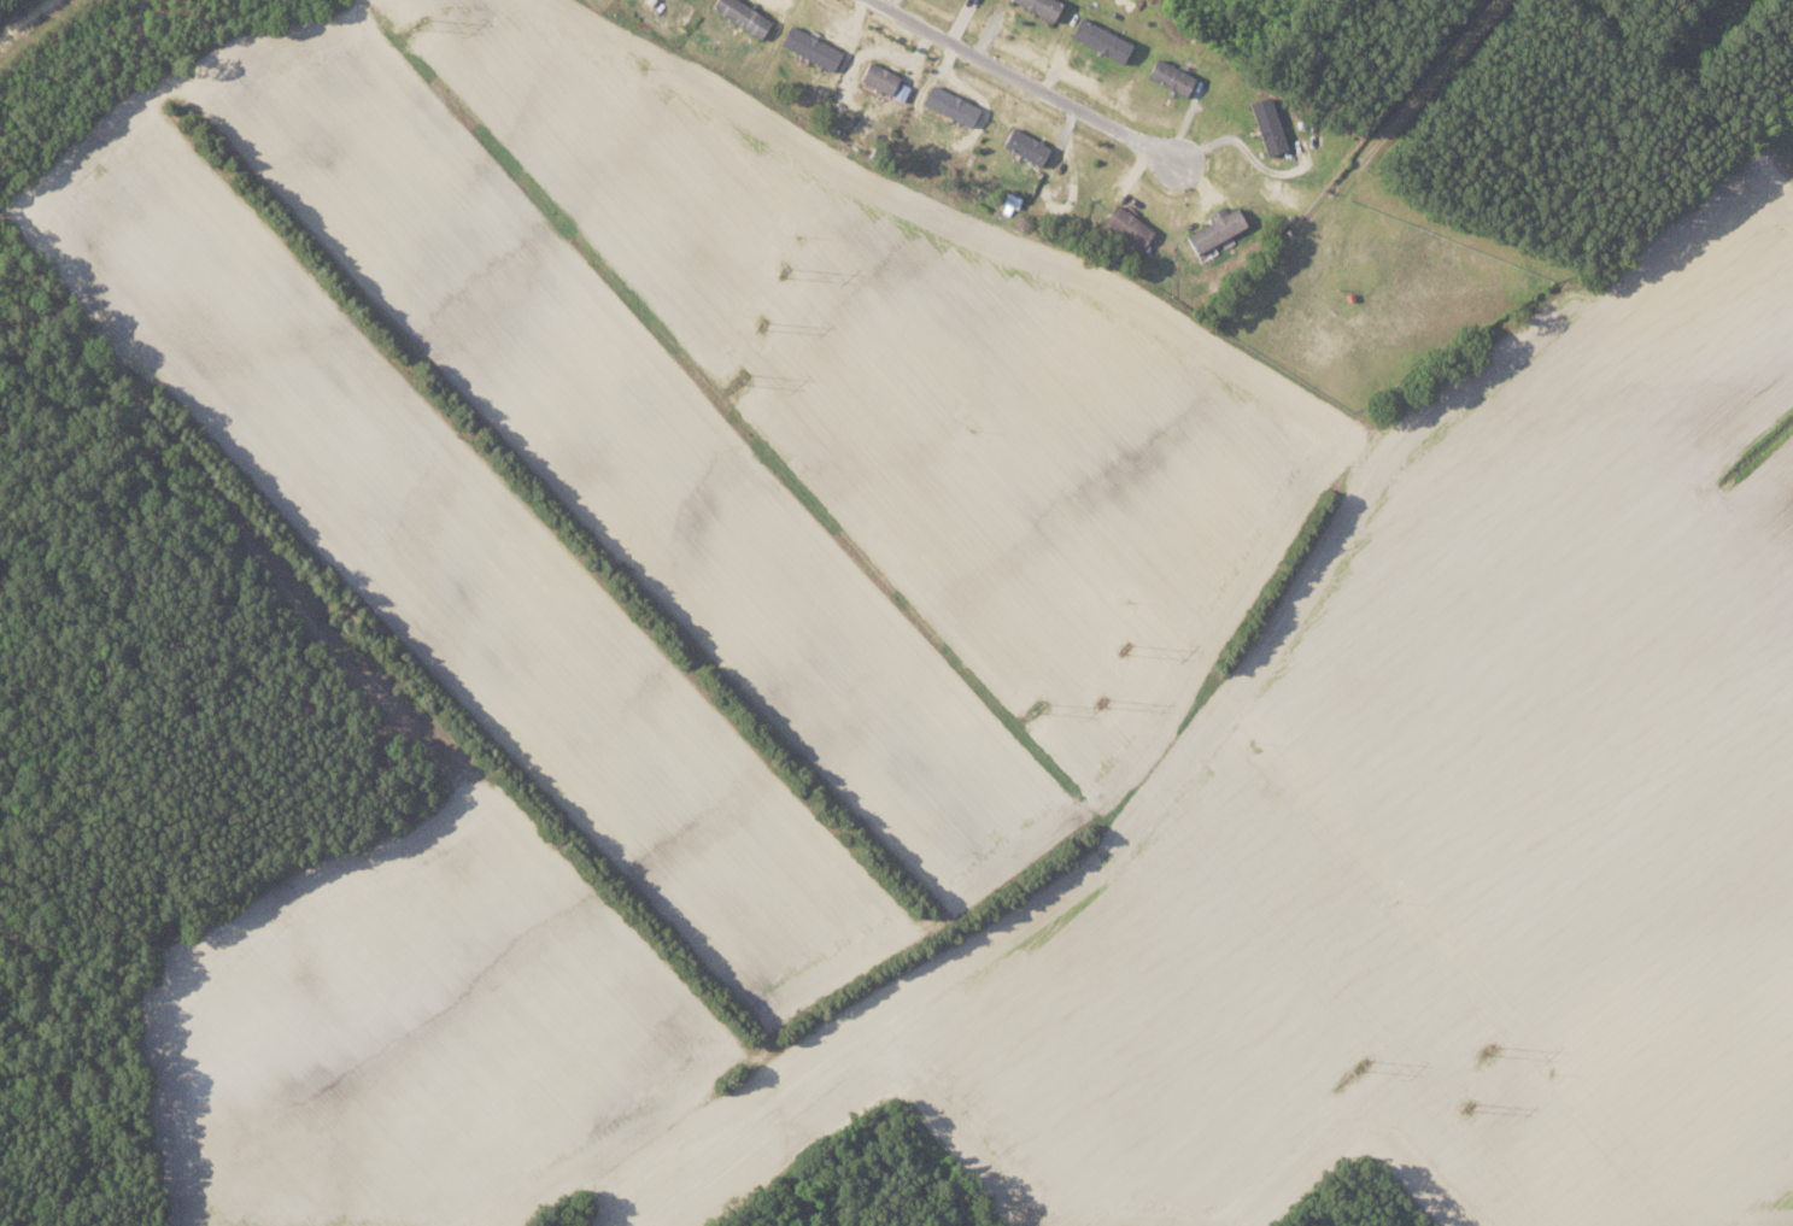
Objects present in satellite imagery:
building: (1041, 7)
building: (744, 16)
road: (25, 18)
power tower: (420, 23)
building: (1102, 37)
building: (810, 48)
building: (1171, 77)
building: (879, 78)
road: (1030, 83)
road: (1423, 94)
building: (949, 105)
building: (863, 122)
building: (1268, 124)
building: (1027, 146)
building: (1130, 225)
building: (1217, 230)
power tower: (786, 272)
power tower: (763, 323)
power tower: (742, 380)
power tower: (1127, 651)
power tower: (1106, 700)
power tower: (1038, 706)
power tower: (1490, 1049)
power tower: (1361, 1064)
power tower: (1470, 1105)

